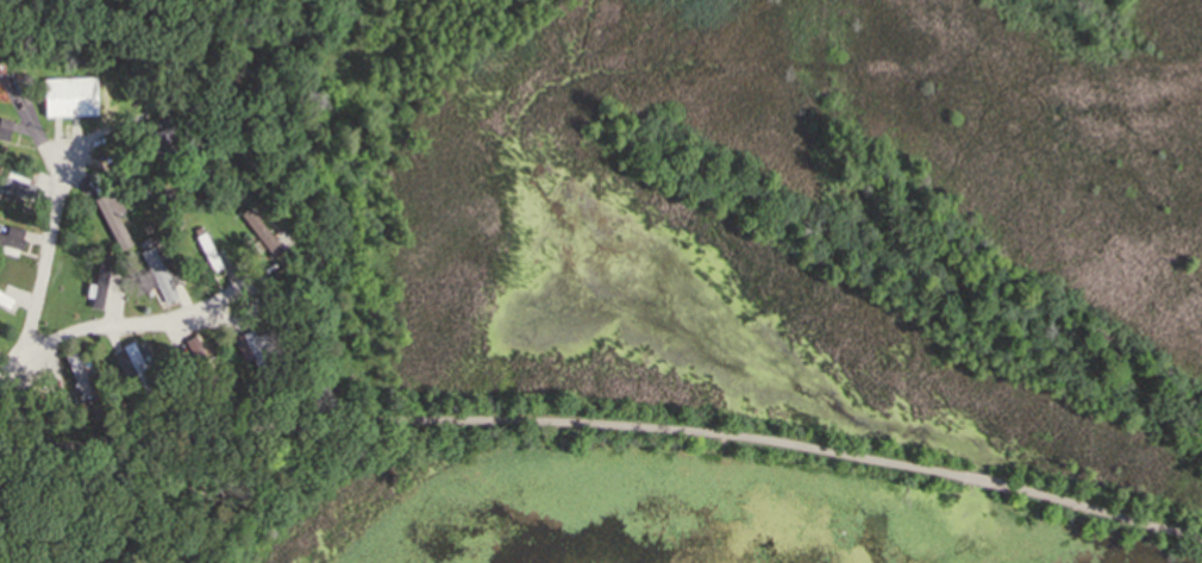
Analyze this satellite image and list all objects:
building: (67, 96)
building: (4, 124)
building: (161, 137)
building: (192, 179)
building: (15, 180)
building: (157, 186)
building: (221, 189)
building: (188, 199)
road: (46, 212)
building: (111, 214)
building: (145, 225)
building: (195, 226)
building: (259, 226)
building: (143, 239)
building: (8, 242)
building: (206, 246)
building: (156, 269)
building: (95, 280)
building: (4, 296)
road: (149, 320)
building: (255, 348)
building: (132, 364)
building: (199, 367)
building: (281, 370)
building: (76, 374)
building: (228, 376)
building: (175, 383)
building: (161, 387)
building: (93, 408)
road: (603, 427)

